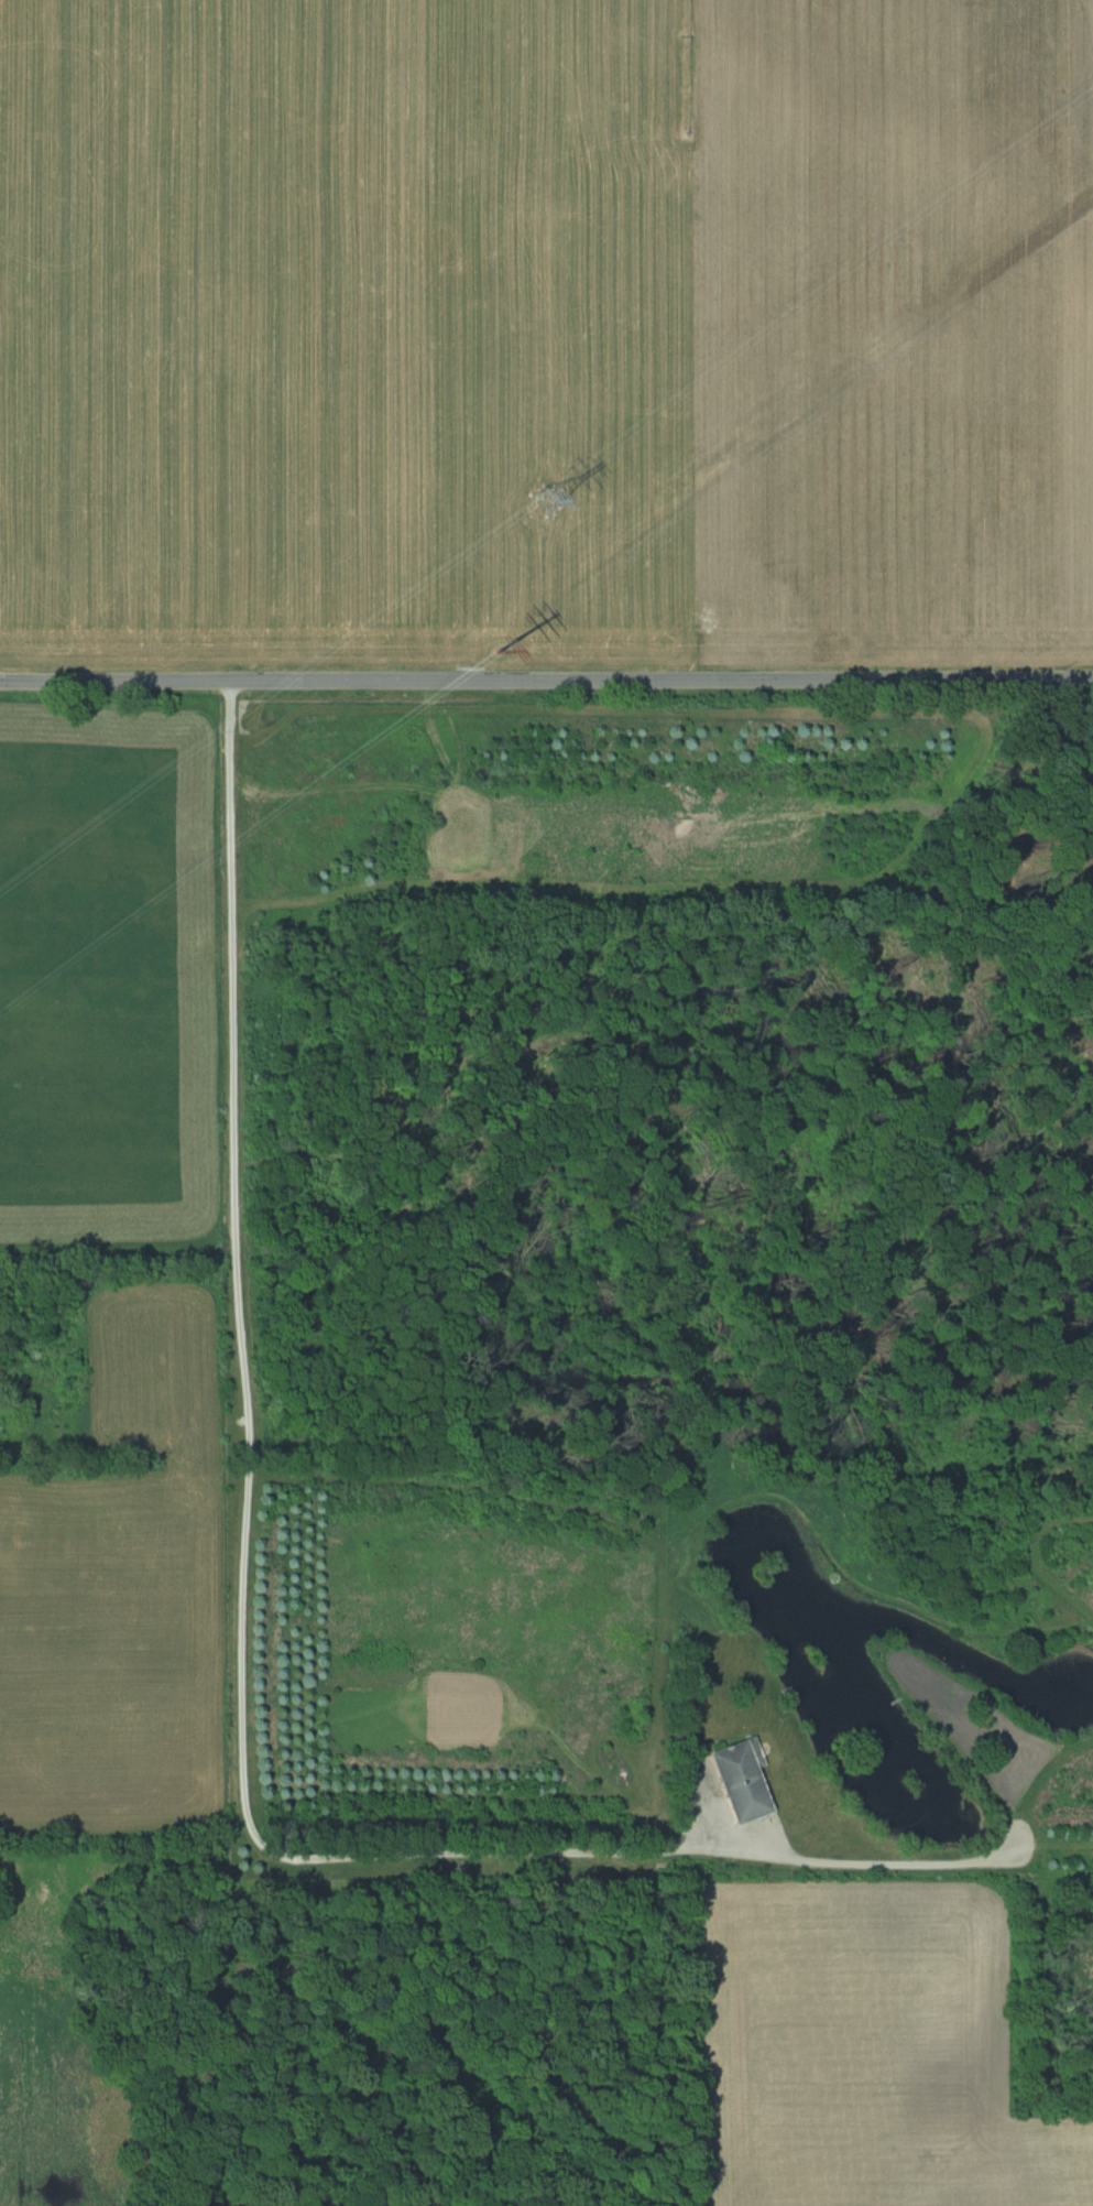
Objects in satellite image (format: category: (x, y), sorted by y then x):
power tower: (543, 501)
power tower: (495, 644)
road: (546, 681)
road: (247, 1502)
building: (737, 1779)

